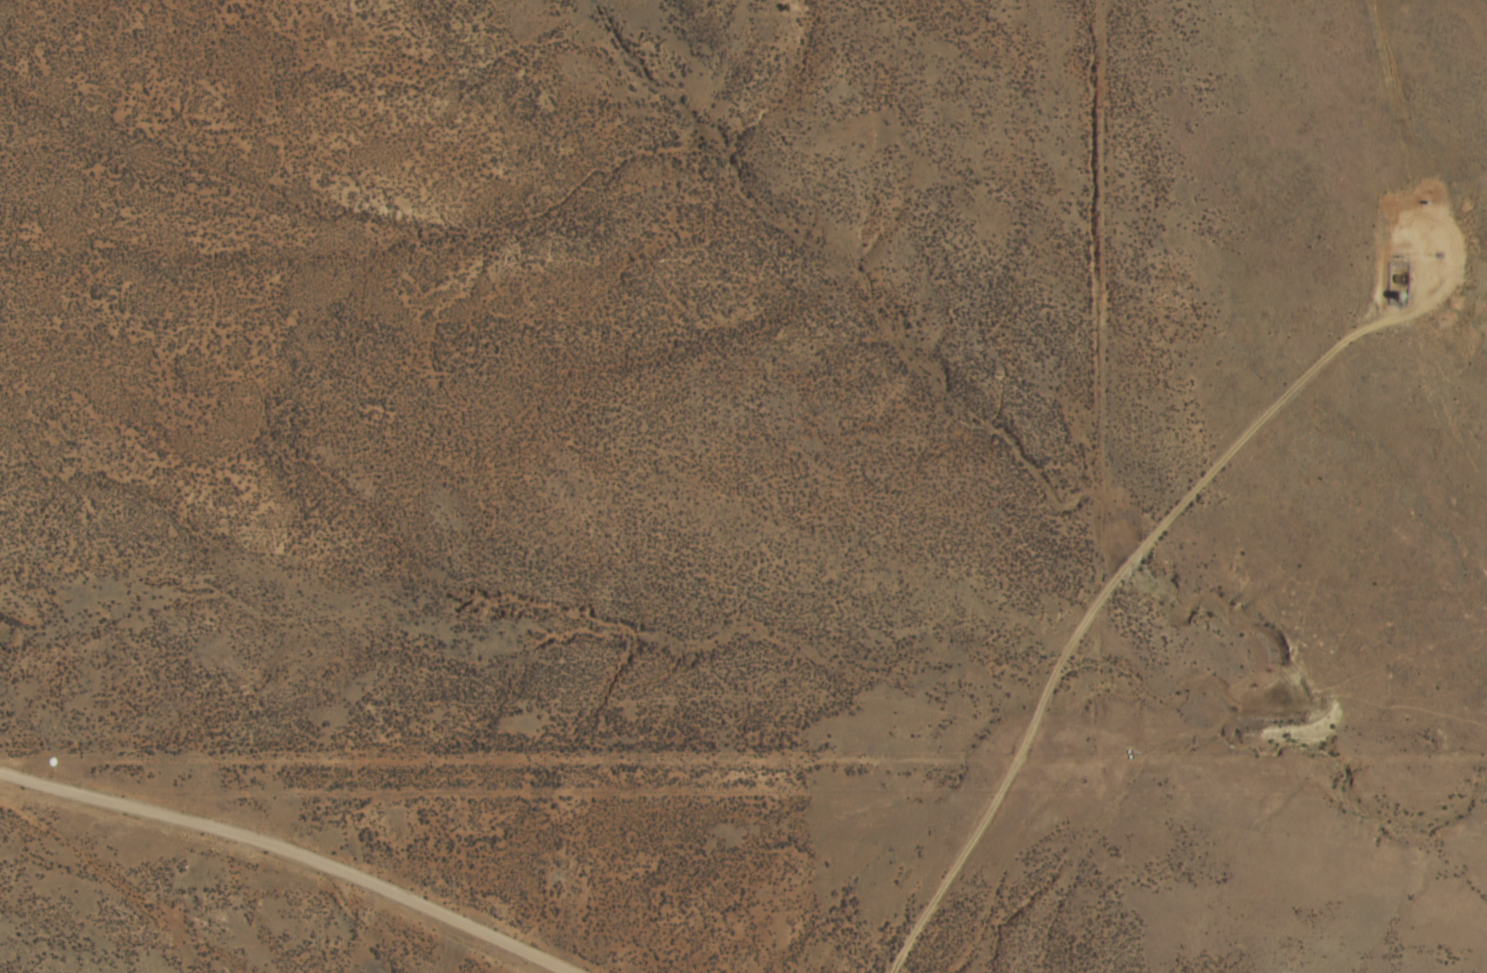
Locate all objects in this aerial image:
road: (300, 853)

